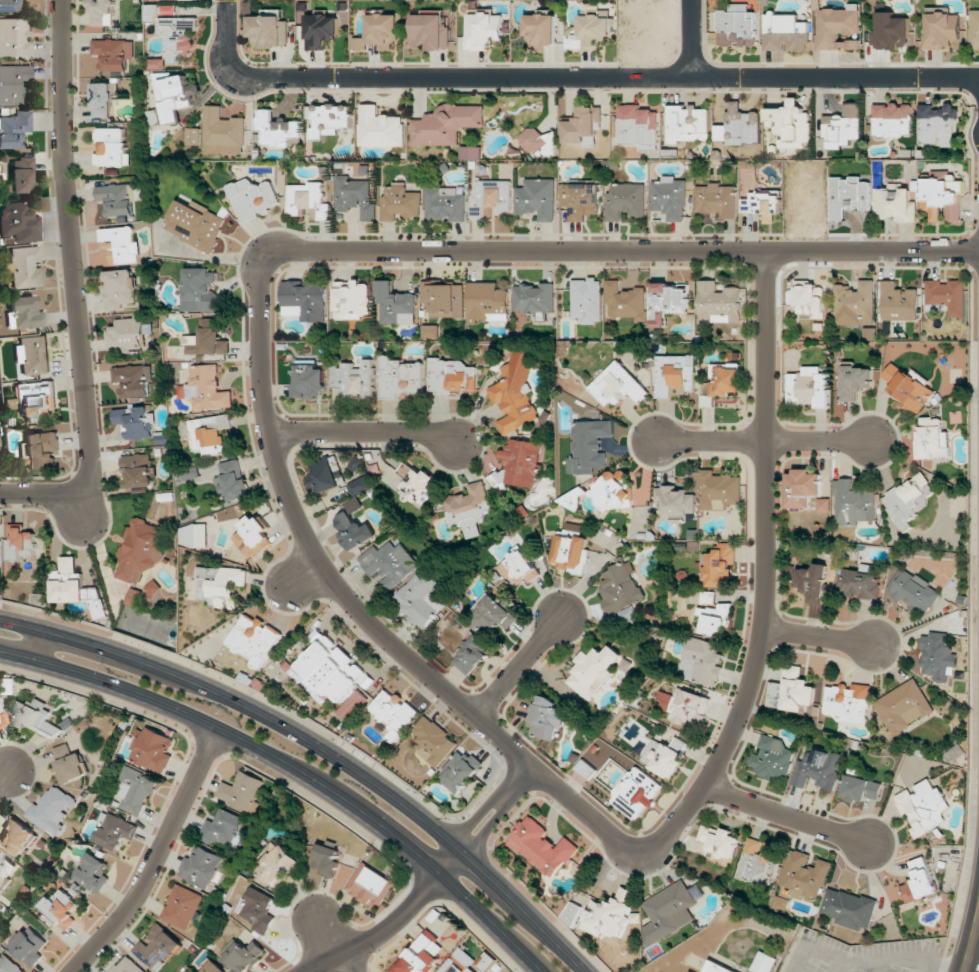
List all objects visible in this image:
building: (9, 6)
building: (102, 12)
building: (737, 26)
building: (541, 28)
building: (837, 28)
building: (974, 30)
building: (321, 31)
building: (483, 31)
building: (890, 31)
building: (942, 31)
building: (268, 32)
building: (430, 32)
building: (589, 32)
building: (379, 33)
building: (785, 33)
building: (178, 37)
building: (13, 38)
road: (691, 38)
building: (113, 53)
building: (157, 63)
road: (570, 77)
building: (13, 83)
building: (172, 96)
building: (103, 99)
building: (328, 119)
building: (892, 120)
building: (937, 123)
building: (446, 124)
building: (688, 124)
building: (791, 124)
building: (583, 126)
building: (638, 126)
building: (740, 126)
building: (843, 126)
building: (380, 128)
building: (14, 129)
building: (276, 129)
building: (222, 132)
building: (192, 136)
building: (539, 143)
building: (111, 148)
building: (470, 153)
building: (21, 176)
building: (491, 196)
building: (849, 196)
building: (355, 197)
building: (253, 198)
building: (669, 198)
building: (115, 199)
building: (307, 199)
building: (536, 199)
building: (942, 199)
building: (717, 200)
building: (581, 201)
building: (625, 201)
building: (400, 202)
building: (894, 203)
building: (445, 204)
building: (763, 205)
building: (18, 223)
building: (195, 224)
building: (121, 245)
road: (634, 252)
building: (25, 267)
road: (76, 288)
building: (201, 288)
building: (120, 289)
building: (948, 296)
building: (534, 297)
building: (305, 300)
building: (352, 300)
building: (444, 300)
building: (586, 300)
building: (809, 300)
building: (487, 302)
building: (624, 302)
building: (668, 302)
building: (719, 302)
building: (898, 302)
building: (855, 304)
building: (396, 305)
building: (25, 313)
building: (431, 332)
building: (125, 335)
building: (207, 339)
building: (33, 354)
building: (674, 375)
building: (452, 376)
building: (399, 377)
building: (354, 379)
building: (133, 380)
building: (309, 380)
building: (854, 381)
building: (726, 384)
building: (617, 385)
building: (808, 387)
building: (908, 388)
building: (207, 389)
building: (515, 396)
building: (135, 422)
road: (364, 432)
building: (931, 439)
road: (766, 442)
building: (589, 445)
building: (41, 450)
building: (519, 464)
building: (138, 471)
building: (325, 474)
building: (233, 481)
building: (417, 484)
building: (360, 486)
building: (802, 488)
building: (720, 490)
building: (615, 491)
building: (908, 500)
building: (676, 501)
building: (853, 504)
building: (823, 505)
road: (81, 507)
building: (469, 507)
building: (354, 531)
building: (253, 536)
building: (21, 542)
building: (140, 550)
building: (570, 551)
building: (389, 563)
building: (719, 565)
building: (518, 567)
road: (301, 571)
building: (813, 582)
building: (860, 582)
building: (219, 585)
building: (75, 588)
building: (913, 591)
building: (143, 597)
building: (421, 600)
building: (493, 614)
building: (714, 619)
building: (316, 636)
road: (819, 638)
building: (253, 640)
road: (41, 646)
building: (472, 654)
building: (937, 657)
building: (702, 661)
road: (519, 665)
building: (333, 670)
building: (594, 670)
building: (791, 691)
building: (848, 702)
building: (351, 705)
building: (904, 706)
building: (684, 707)
building: (394, 714)
building: (35, 717)
building: (546, 718)
building: (0, 724)
building: (433, 741)
road: (321, 748)
building: (155, 749)
building: (955, 752)
building: (665, 756)
building: (772, 758)
building: (69, 764)
building: (817, 768)
road: (294, 770)
building: (460, 771)
road: (5, 777)
road: (522, 779)
building: (860, 789)
building: (136, 790)
building: (241, 791)
building: (635, 793)
building: (923, 806)
building: (52, 809)
road: (584, 811)
road: (787, 815)
road: (480, 816)
road: (492, 824)
building: (225, 829)
building: (113, 831)
building: (16, 836)
building: (719, 842)
building: (541, 847)
road: (156, 857)
building: (327, 860)
road: (451, 862)
building: (758, 863)
building: (276, 864)
building: (202, 868)
building: (6, 869)
building: (93, 872)
building: (804, 877)
building: (919, 881)
building: (369, 885)
building: (0, 903)
building: (181, 907)
building: (62, 908)
building: (849, 908)
building: (257, 910)
building: (668, 912)
building: (572, 913)
building: (609, 914)
road: (382, 934)
road: (333, 944)
road: (973, 944)
building: (29, 946)
building: (157, 948)
building: (243, 955)
building: (421, 956)
building: (487, 961)
building: (459, 962)
building: (764, 963)
building: (8, 964)
building: (127, 966)
building: (214, 968)
building: (717, 968)

